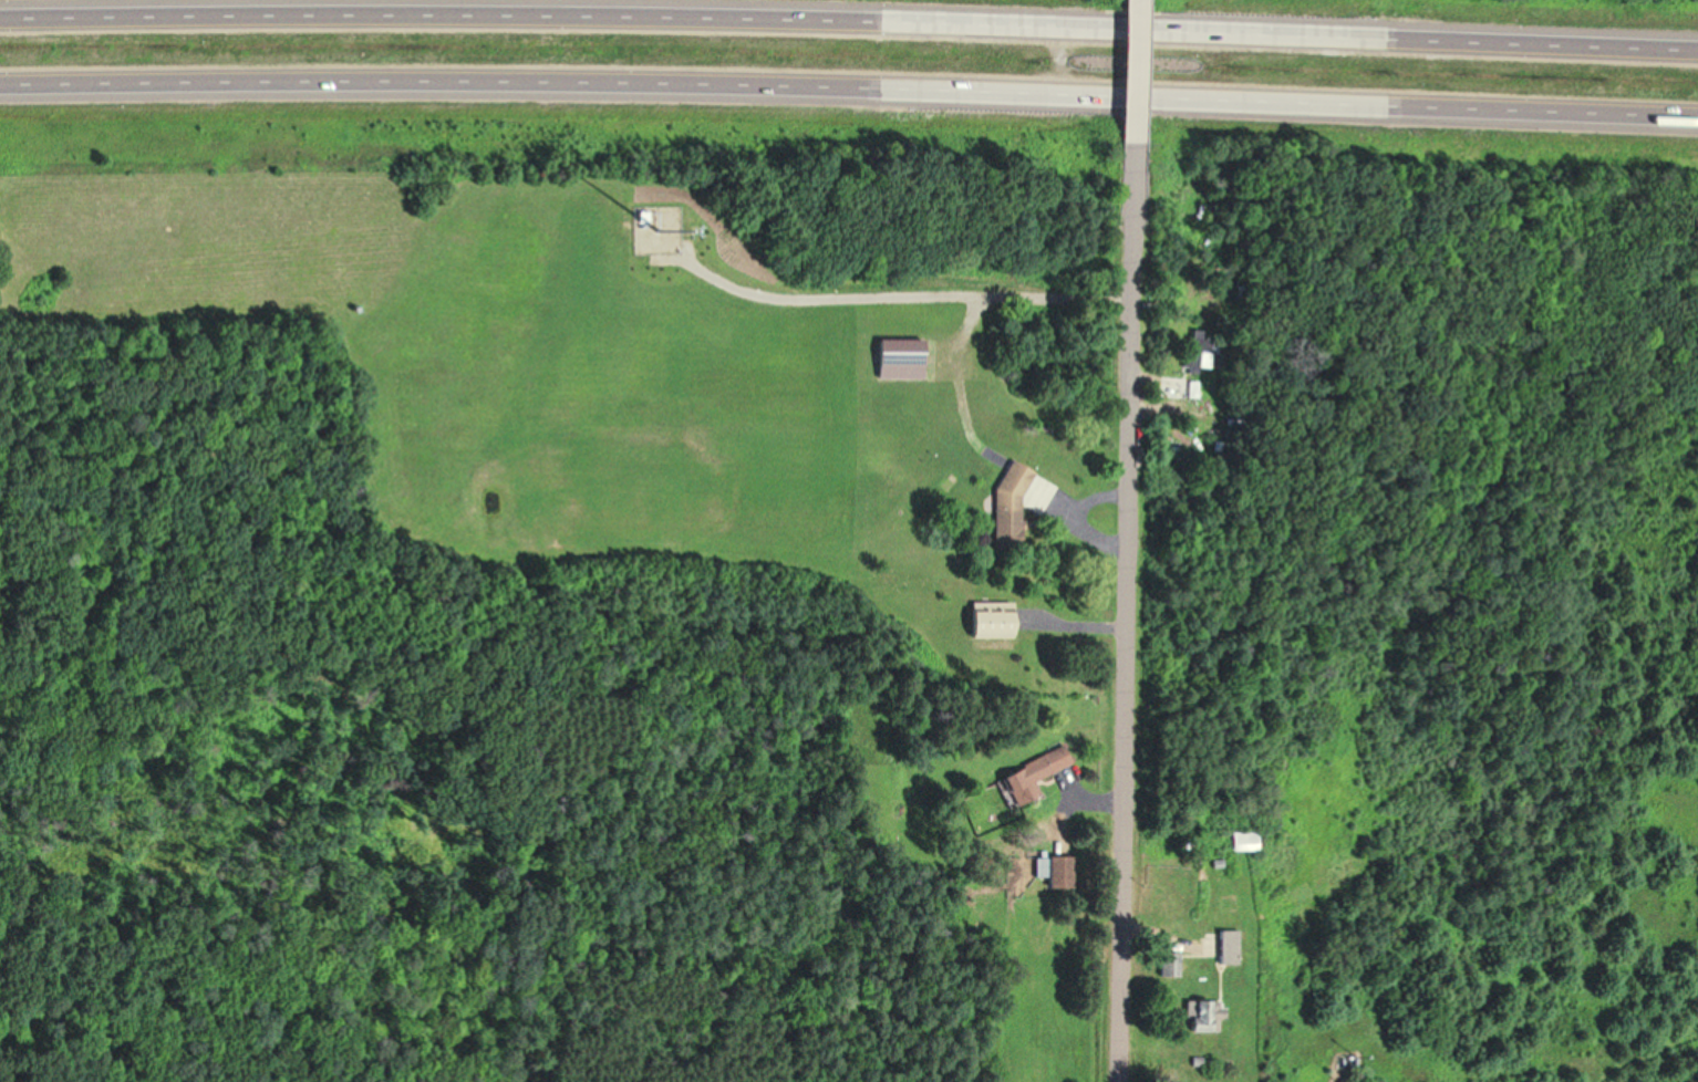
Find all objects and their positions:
road: (849, 20)
road: (1136, 79)
road: (849, 91)
building: (897, 358)
building: (1191, 389)
building: (1005, 504)
building: (987, 618)
road: (1125, 618)
building: (1031, 774)
building: (1056, 874)
building: (1225, 947)
building: (1167, 964)
building: (1202, 1016)

